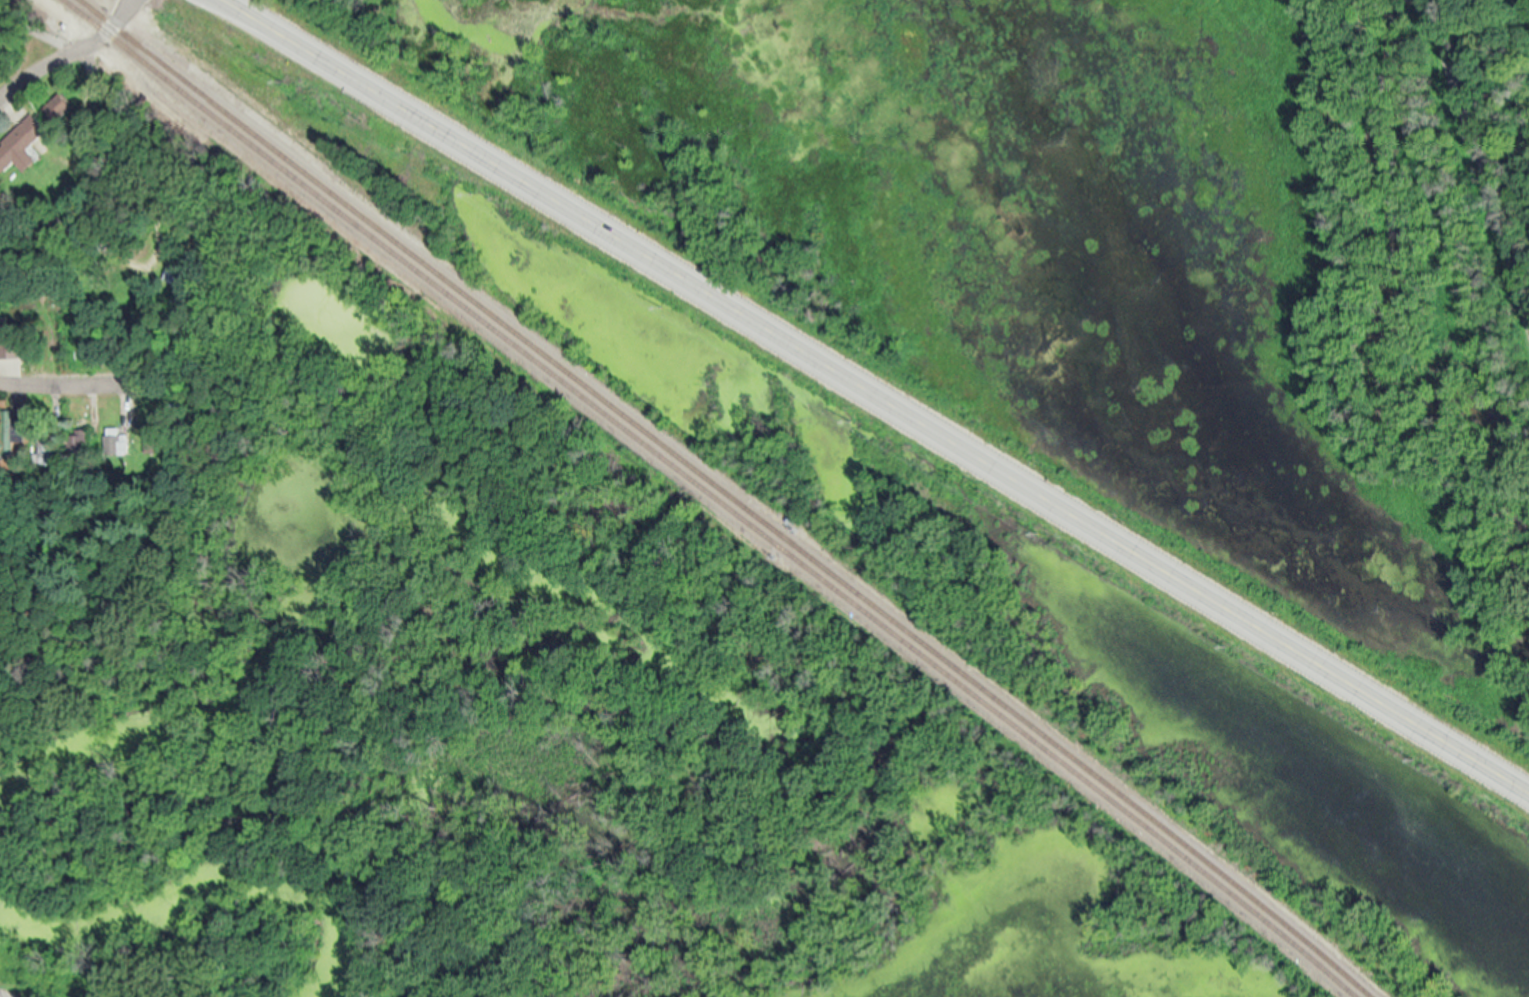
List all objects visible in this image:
road: (68, 54)
building: (58, 106)
road: (113, 131)
building: (21, 142)
road: (1478, 152)
building: (177, 276)
building: (12, 346)
road: (61, 382)
road: (878, 393)
building: (10, 430)
building: (115, 440)
building: (78, 442)
building: (45, 445)
railway: (715, 494)
railway: (732, 494)
road: (261, 815)

